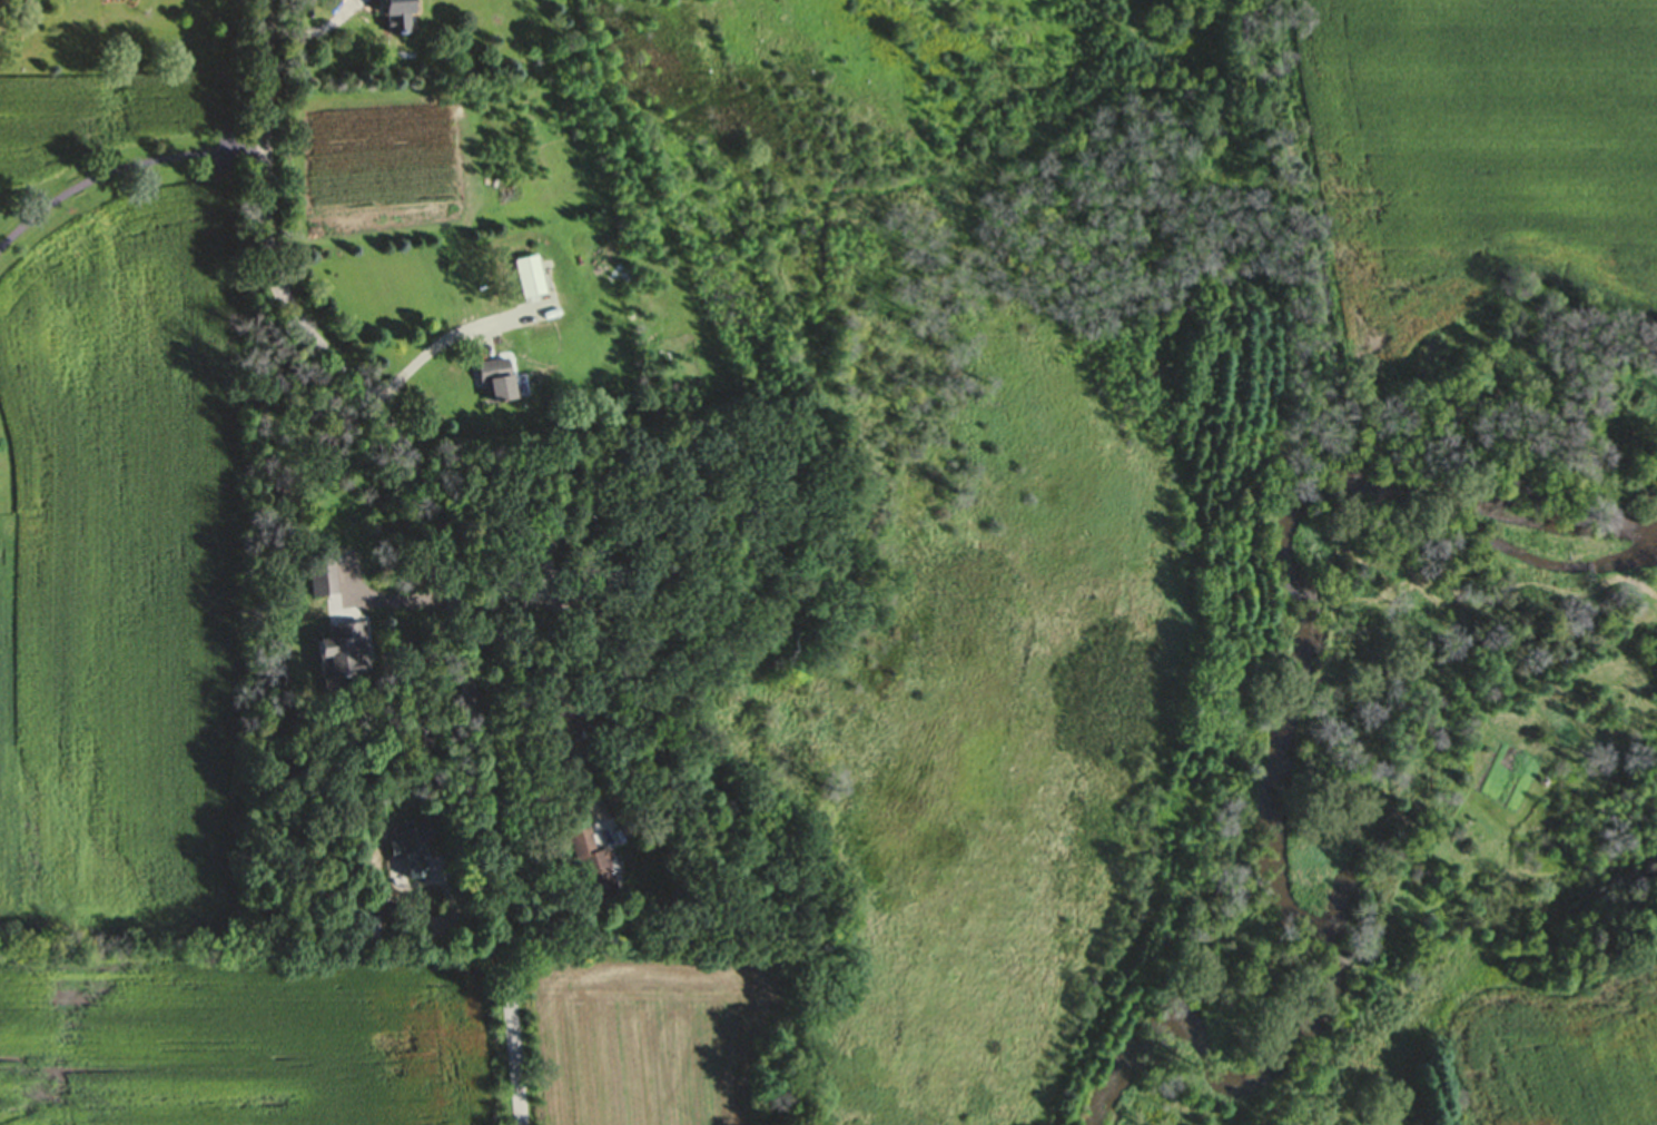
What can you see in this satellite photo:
building: (388, 16)
road: (121, 169)
building: (526, 278)
road: (445, 343)
building: (491, 382)
road: (441, 539)
building: (318, 576)
road: (395, 612)
building: (338, 653)
river: (1289, 747)
building: (407, 850)
building: (589, 864)

